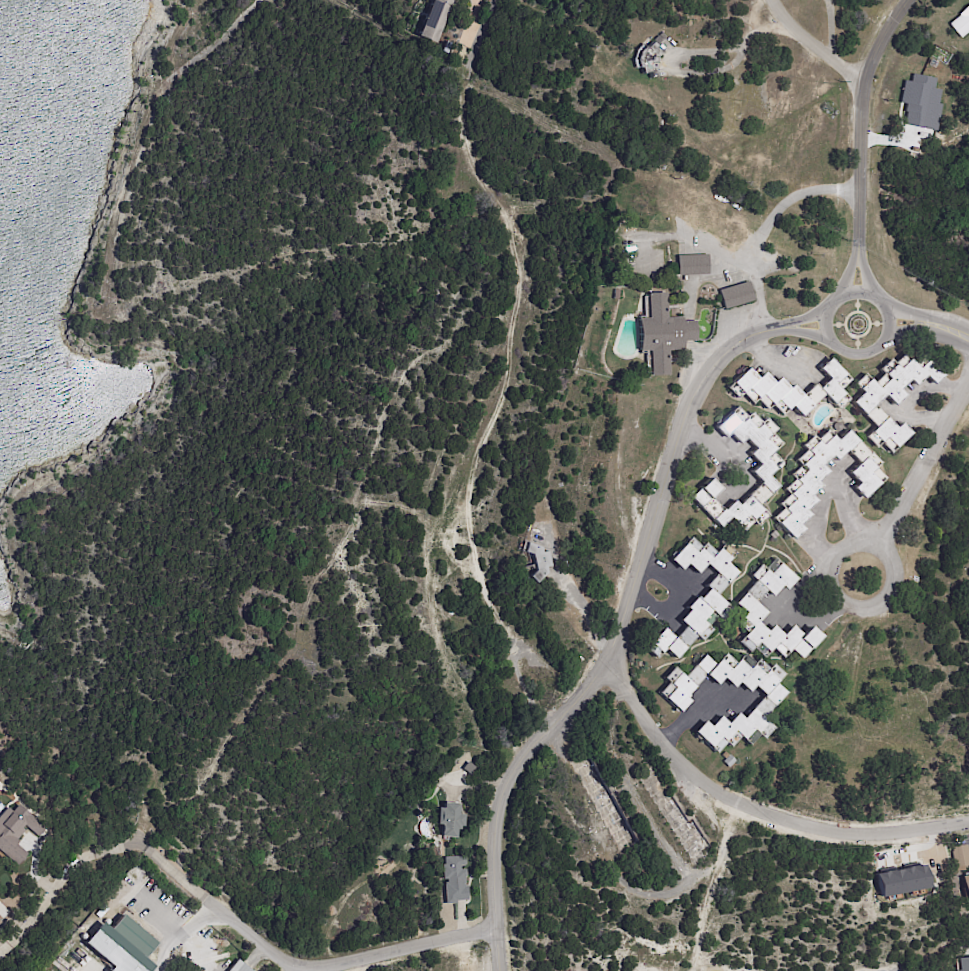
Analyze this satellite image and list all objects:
building: (570, 0)
building: (434, 22)
building: (961, 23)
building: (663, 37)
building: (658, 41)
road: (813, 45)
road: (732, 49)
building: (647, 62)
building: (920, 103)
road: (861, 120)
building: (689, 210)
building: (714, 218)
road: (766, 224)
building: (691, 267)
road: (865, 273)
road: (848, 274)
building: (616, 296)
building: (735, 298)
road: (826, 312)
road: (905, 315)
road: (808, 316)
road: (949, 328)
road: (808, 331)
road: (905, 331)
building: (662, 335)
road: (773, 359)
building: (790, 391)
building: (890, 397)
road: (909, 402)
road: (709, 446)
road: (924, 460)
building: (766, 468)
building: (803, 485)
road: (824, 489)
building: (774, 535)
building: (537, 562)
road: (680, 597)
road: (803, 598)
road: (886, 598)
building: (707, 600)
road: (587, 609)
building: (749, 609)
building: (578, 626)
road: (620, 674)
building: (543, 682)
building: (762, 709)
road: (688, 721)
building: (728, 762)
road: (495, 791)
building: (447, 822)
building: (16, 830)
road: (148, 845)
building: (960, 859)
building: (453, 881)
building: (966, 889)
road: (10, 911)
building: (132, 938)
road: (389, 949)
building: (113, 958)
building: (237, 968)

